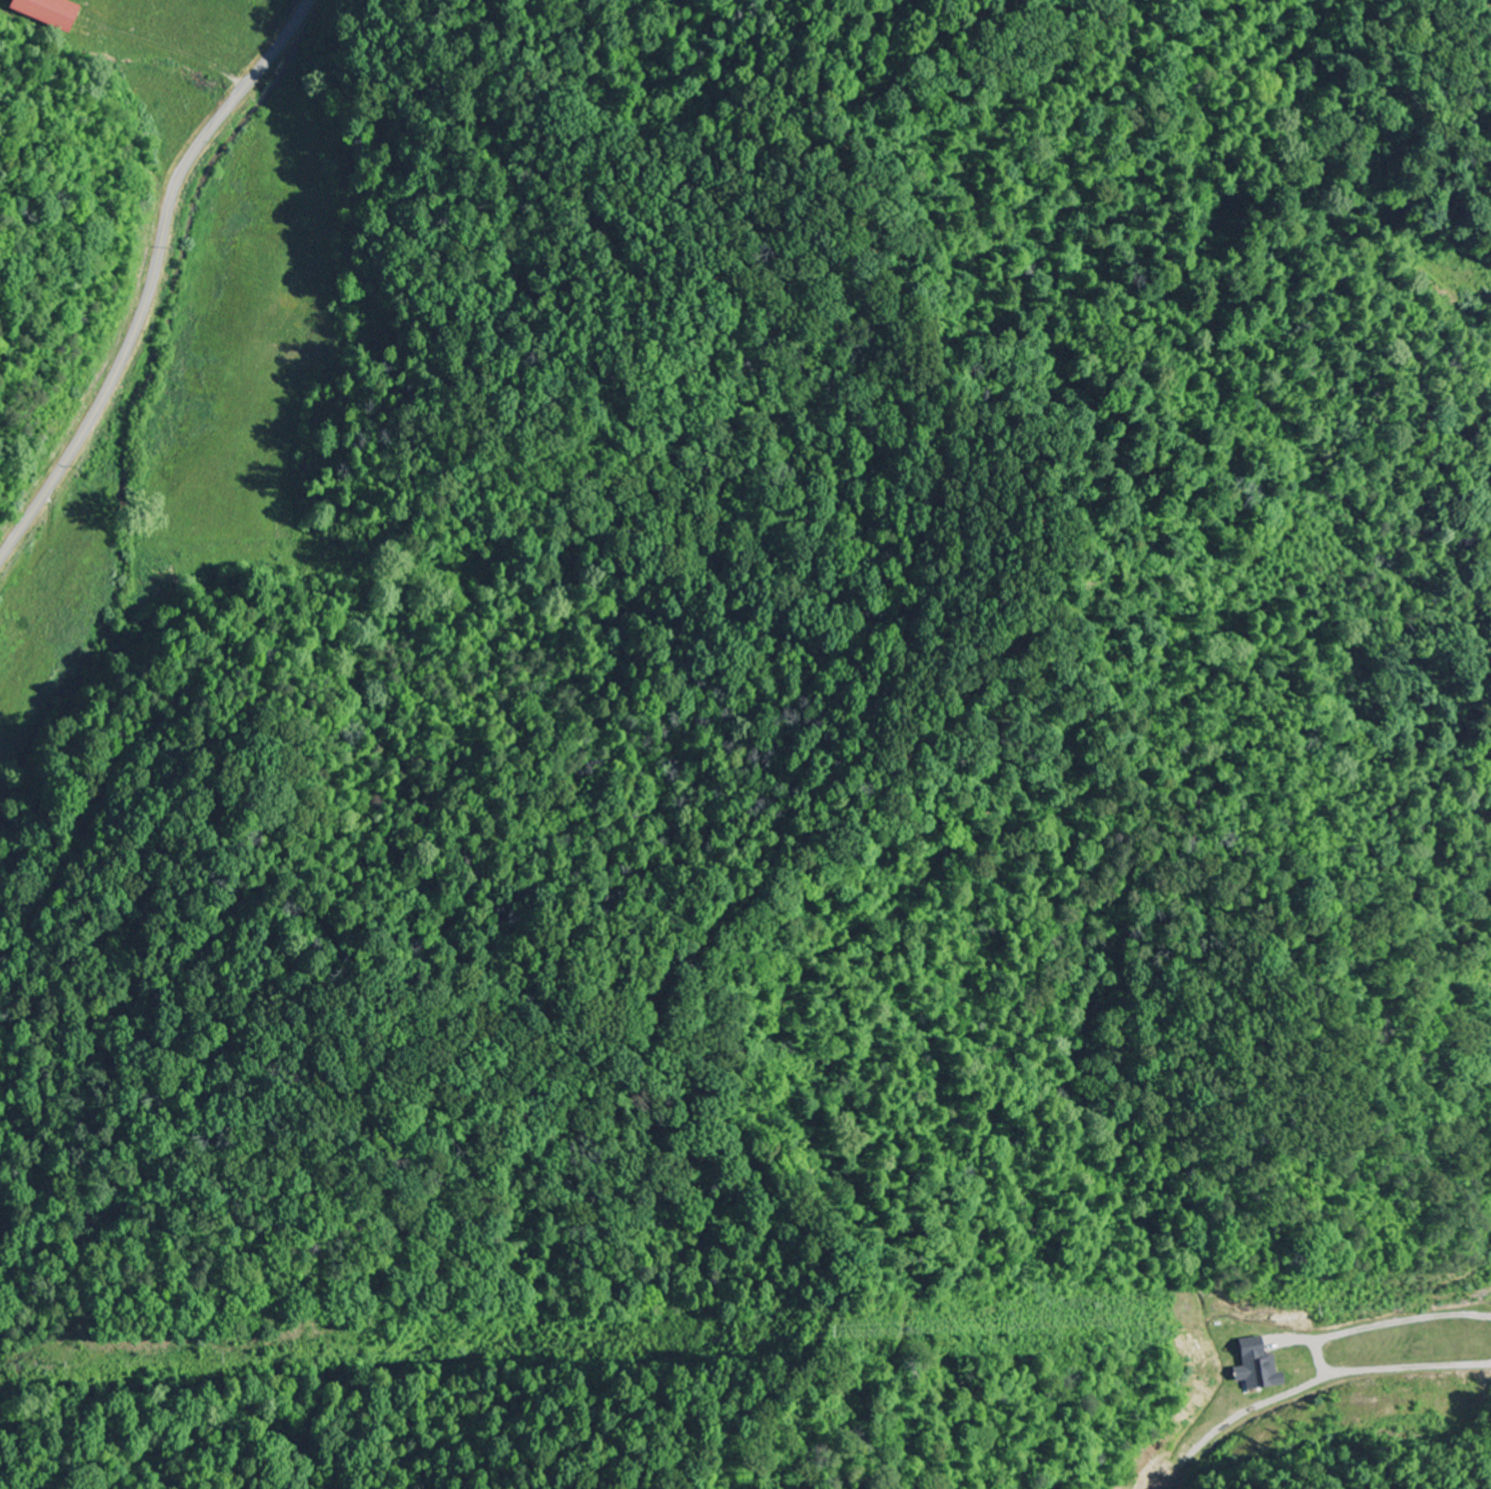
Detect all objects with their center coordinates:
building: (48, 12)
road: (299, 78)
road: (153, 278)
road: (349, 291)
building: (1253, 1366)

